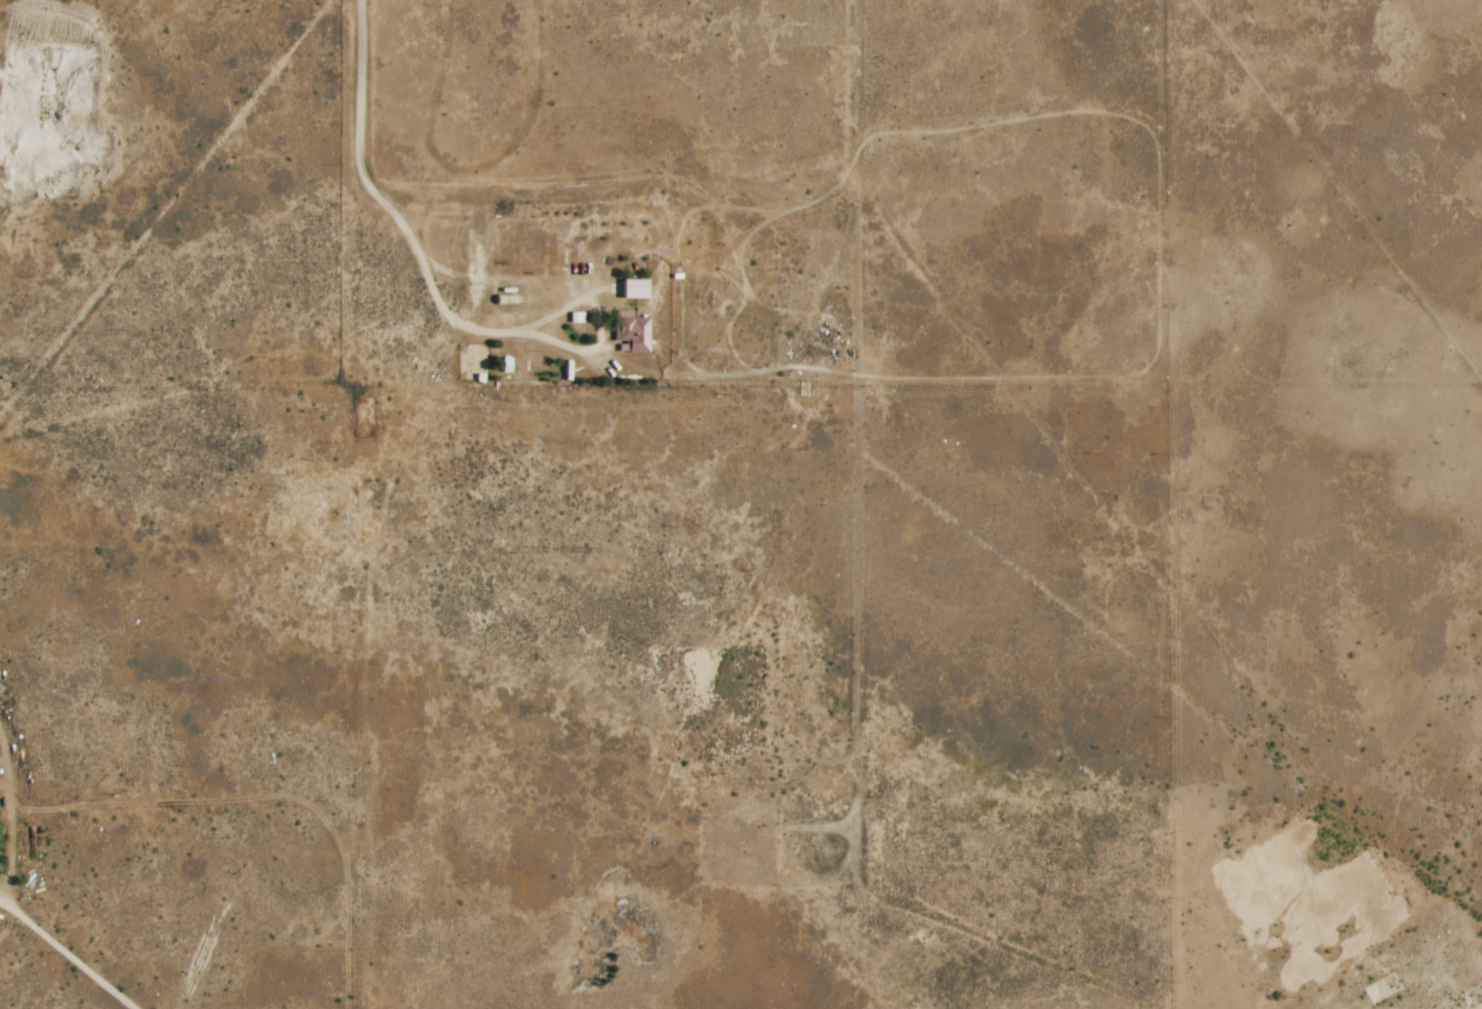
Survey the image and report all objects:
road: (362, 184)
road: (66, 956)

